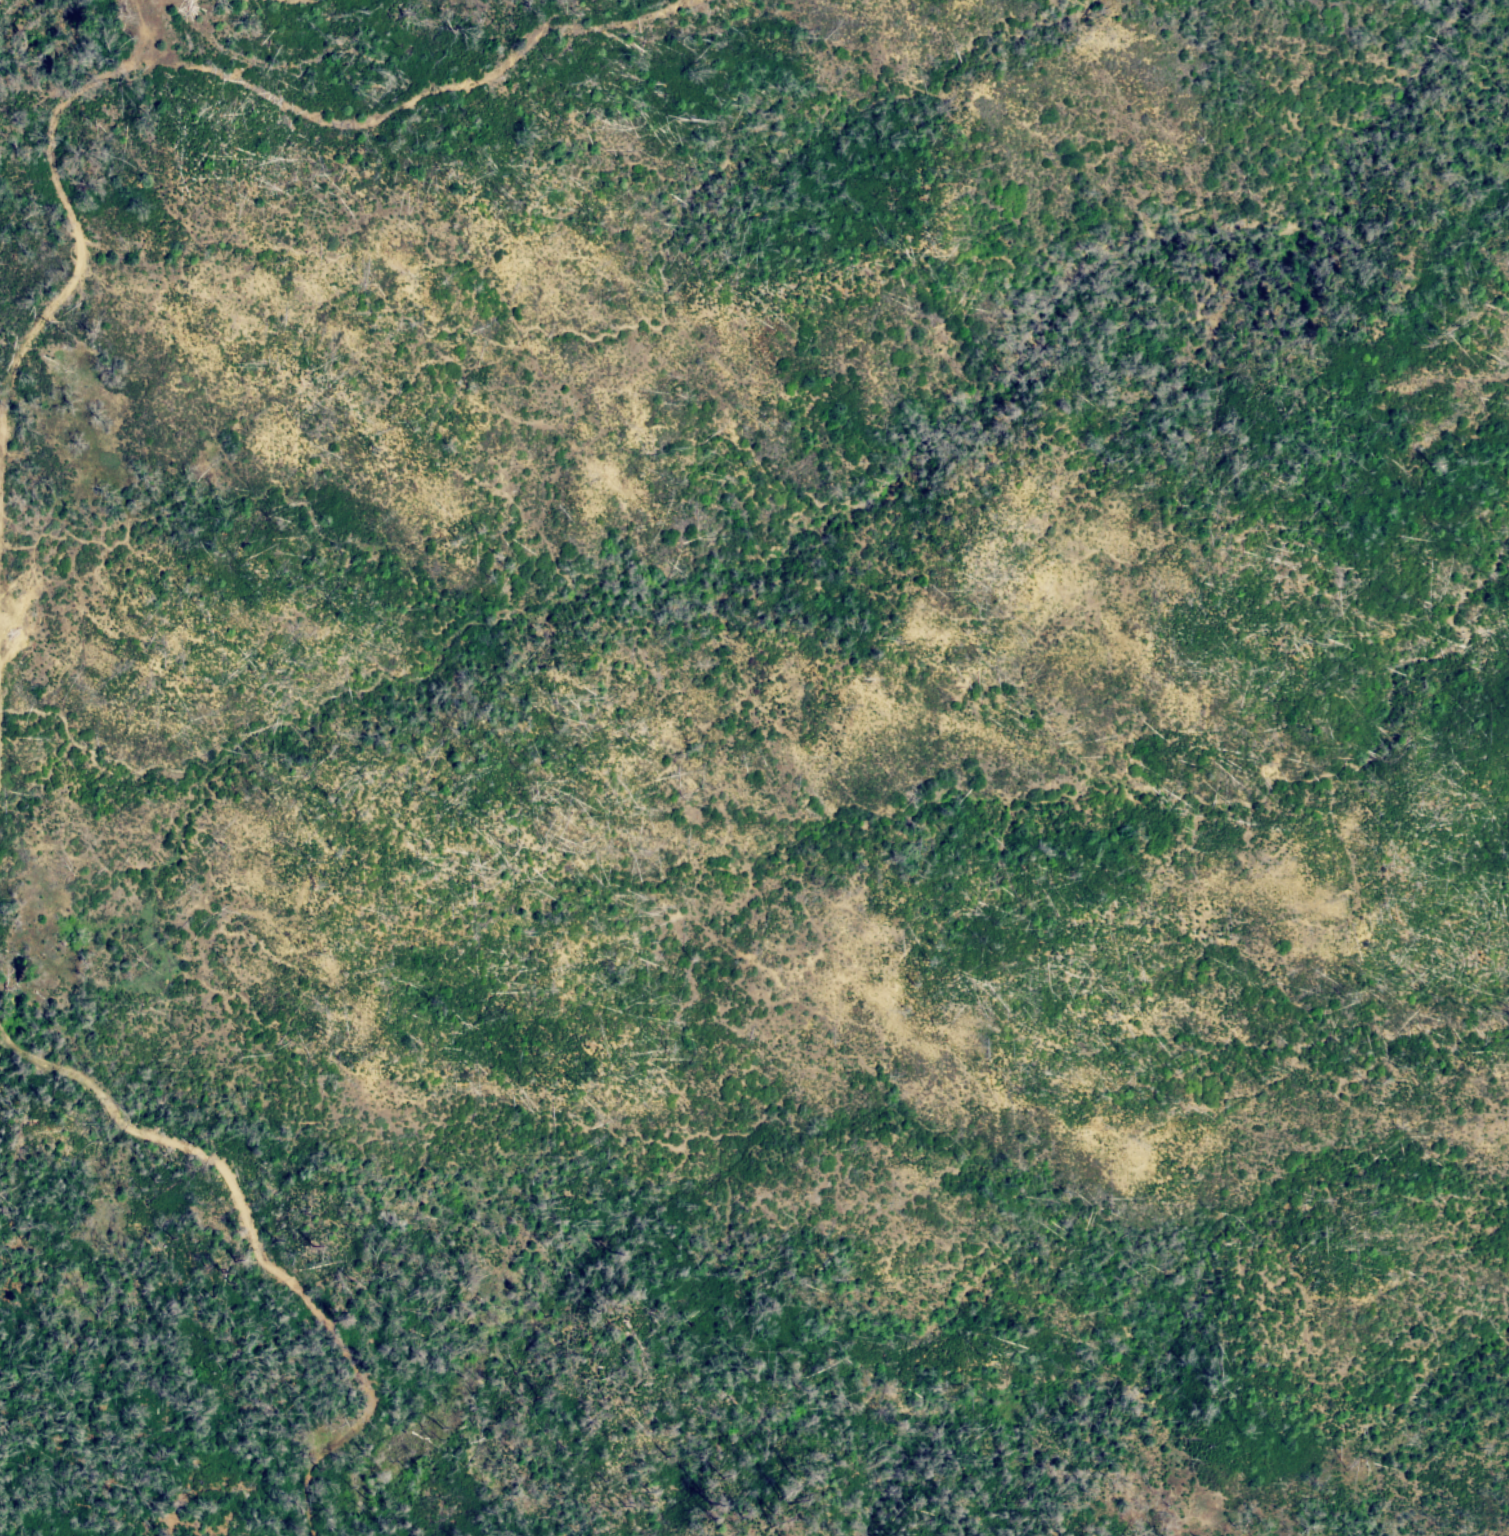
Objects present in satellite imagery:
road: (15, 671)
road: (266, 1248)

